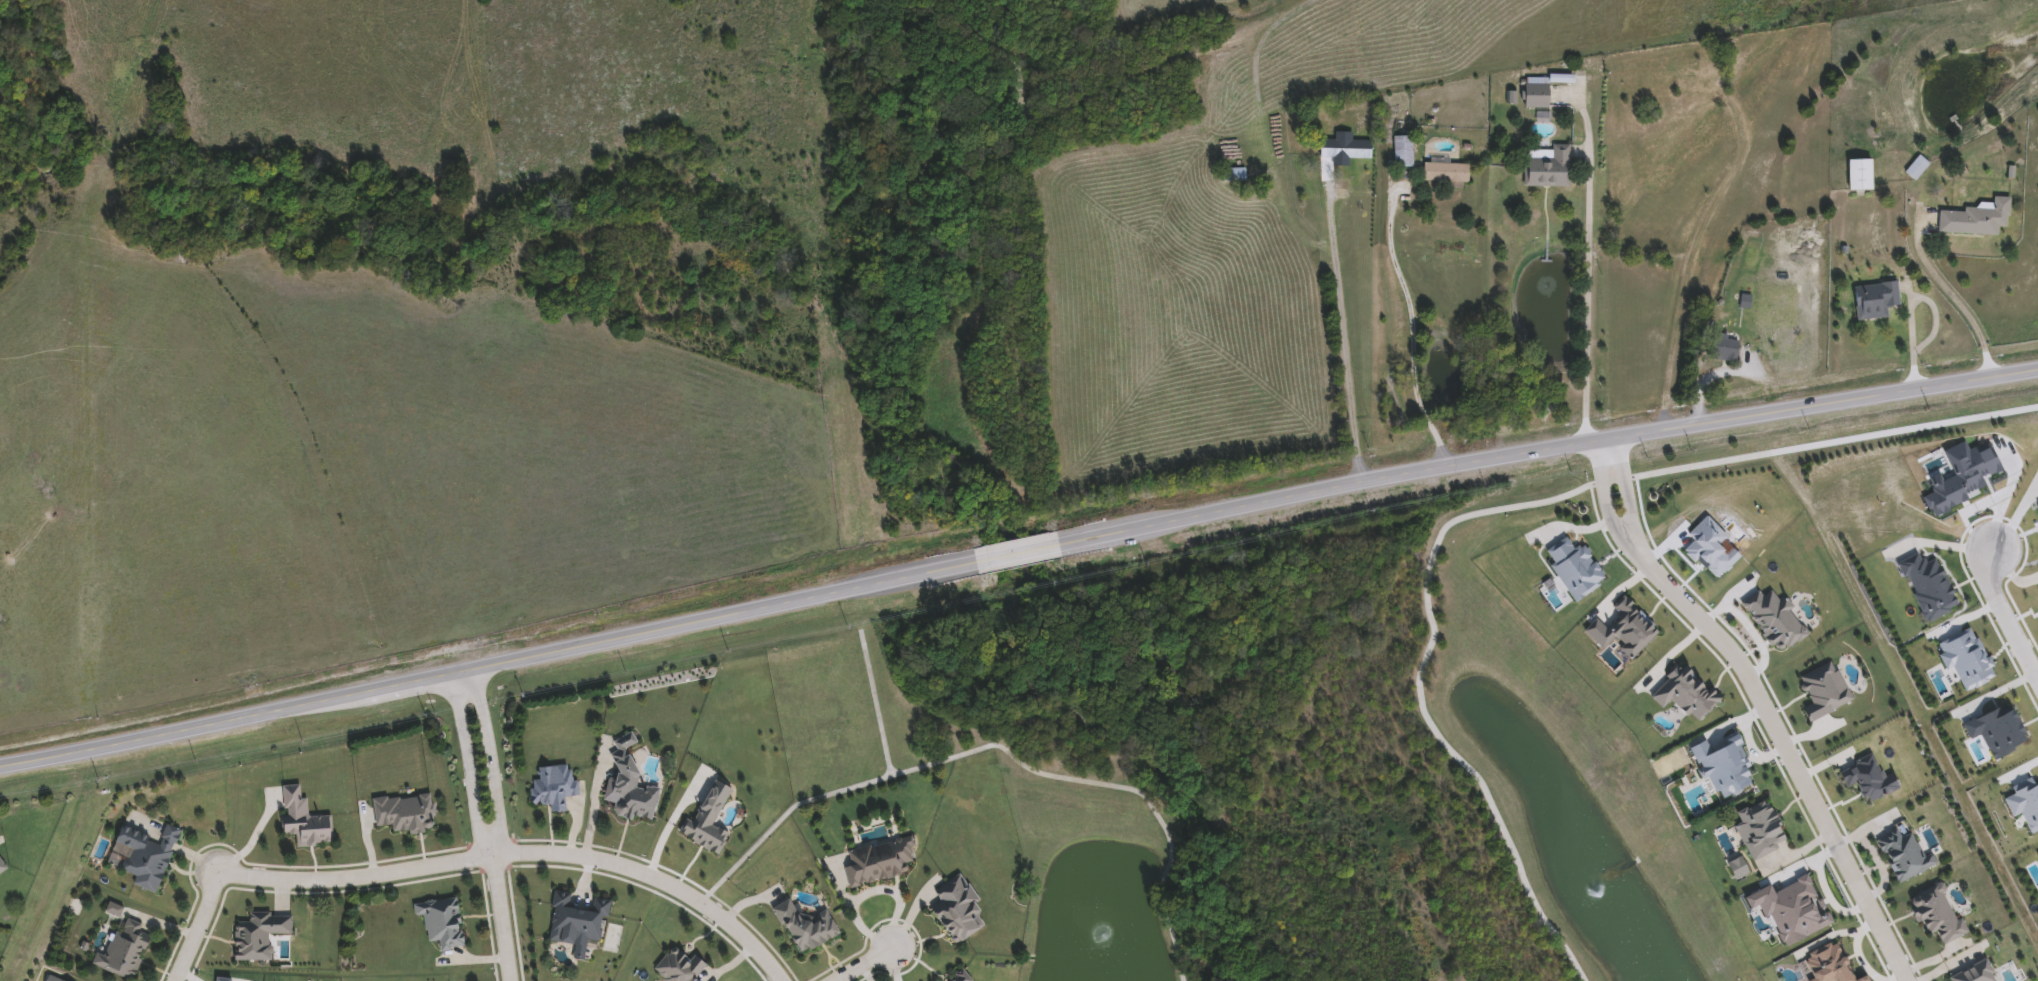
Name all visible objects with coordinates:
road: (1255, 44)
building: (1694, 55)
building: (1723, 73)
building: (1538, 94)
building: (1345, 151)
building: (1405, 153)
building: (1551, 170)
building: (1448, 174)
building: (1233, 175)
building: (1858, 176)
building: (1975, 220)
road: (1586, 269)
road: (1955, 300)
building: (1877, 301)
road: (1909, 305)
road: (1404, 333)
road: (1341, 335)
building: (1725, 349)
road: (1703, 378)
road: (1545, 448)
road: (1629, 493)
road: (1607, 501)
road: (1016, 553)
road: (2005, 610)
road: (487, 665)
road: (1791, 753)
road: (490, 761)
road: (467, 766)
building: (630, 786)
building: (555, 789)
building: (405, 814)
building: (305, 821)
building: (145, 856)
road: (463, 859)
building: (878, 861)
building: (0, 873)
fountain: (1599, 893)
building: (959, 910)
road: (503, 917)
building: (577, 921)
building: (443, 923)
building: (808, 927)
building: (261, 937)
building: (126, 949)
road: (862, 965)
building: (683, 967)

